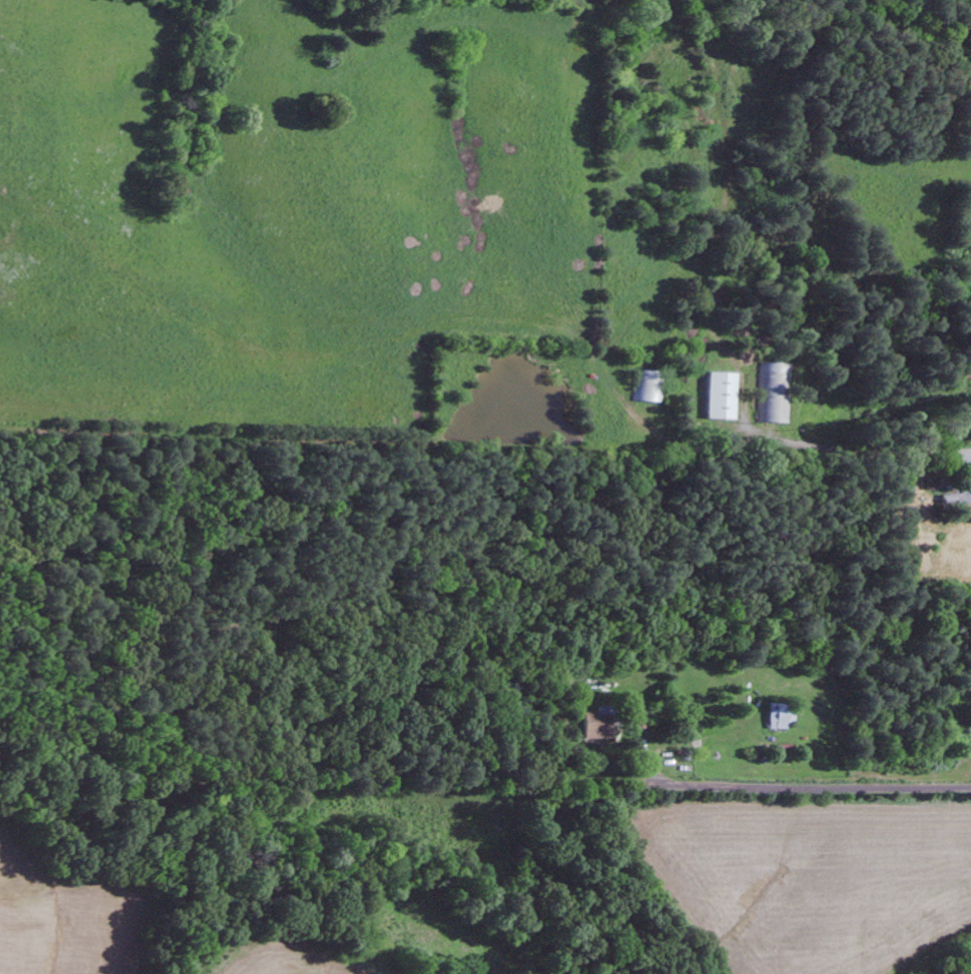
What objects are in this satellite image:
road: (864, 123)
building: (646, 386)
building: (773, 393)
building: (720, 396)
building: (779, 715)
building: (596, 723)
road: (805, 787)

